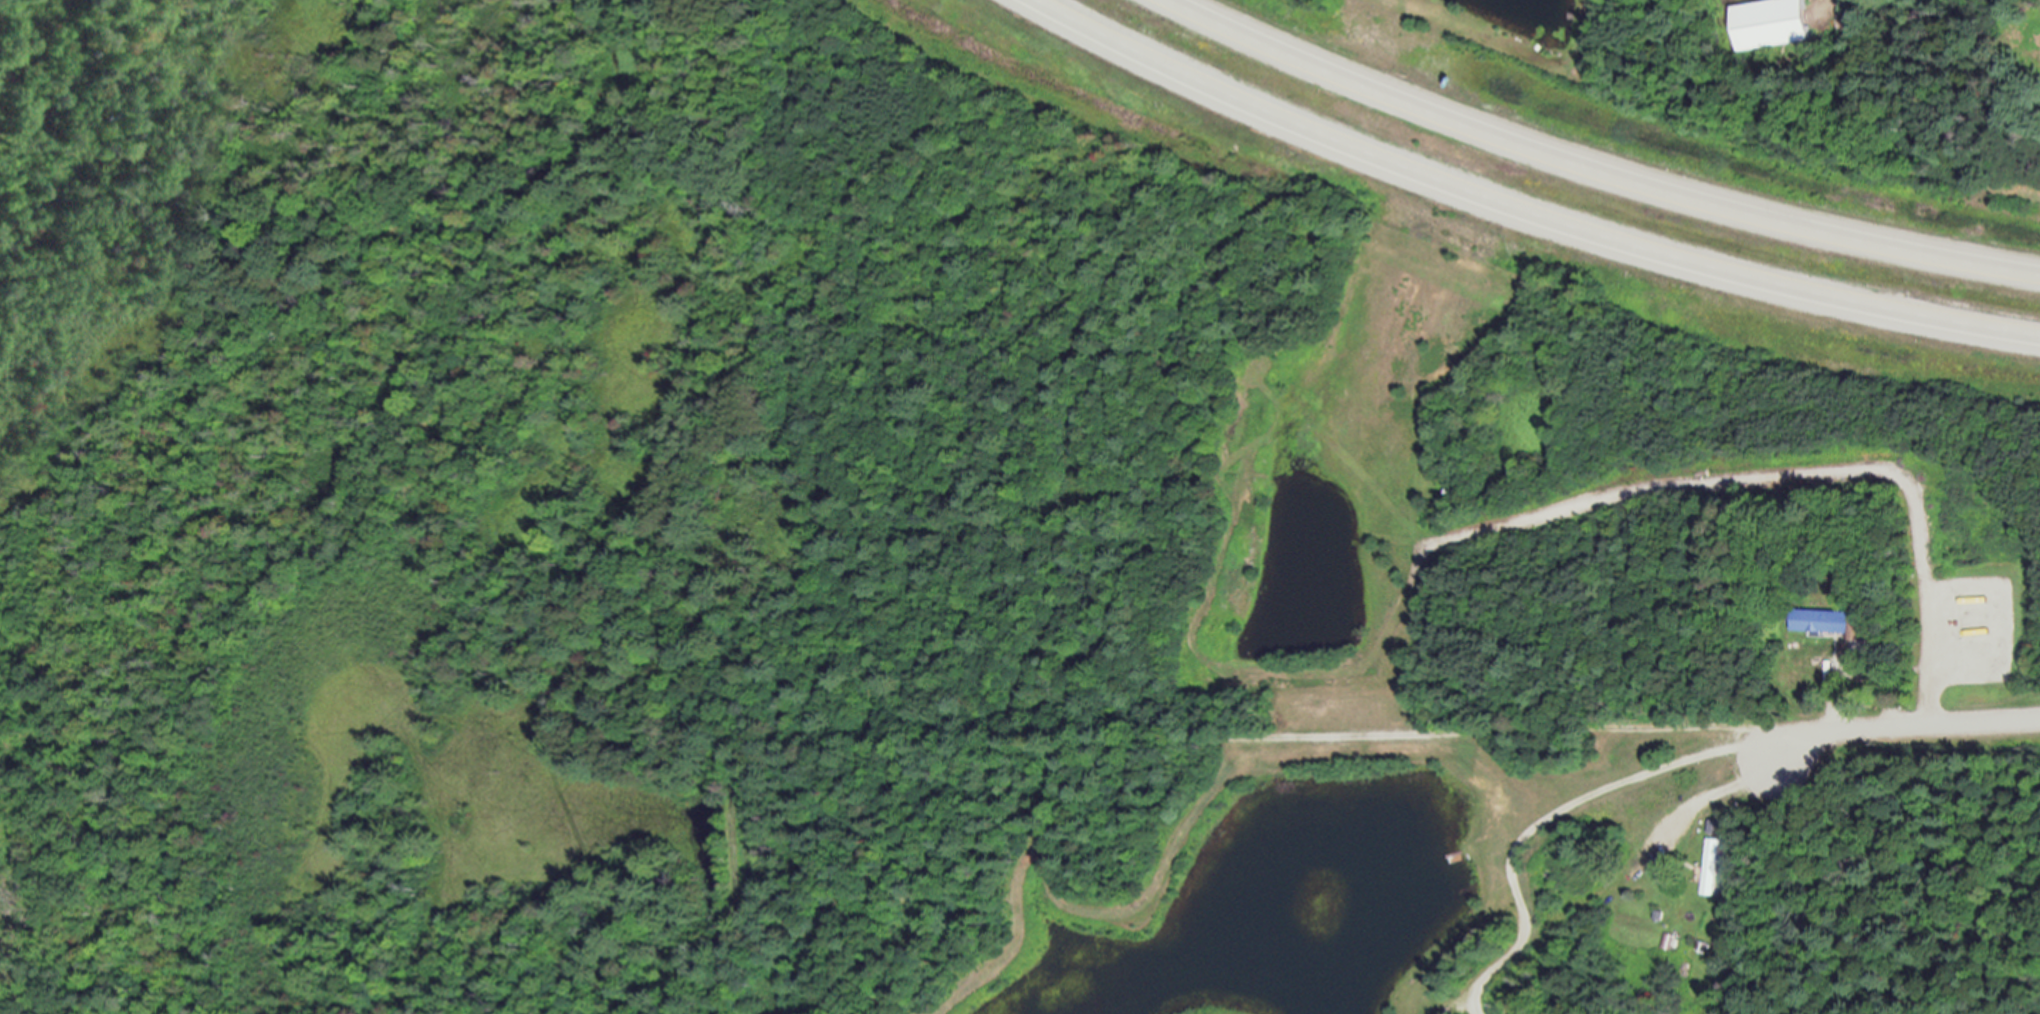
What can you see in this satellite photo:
building: (1771, 24)
road: (1596, 167)
road: (1527, 209)
road: (1801, 470)
building: (1821, 620)
road: (1902, 727)
road: (1343, 730)
building: (1709, 866)
road: (1607, 890)

